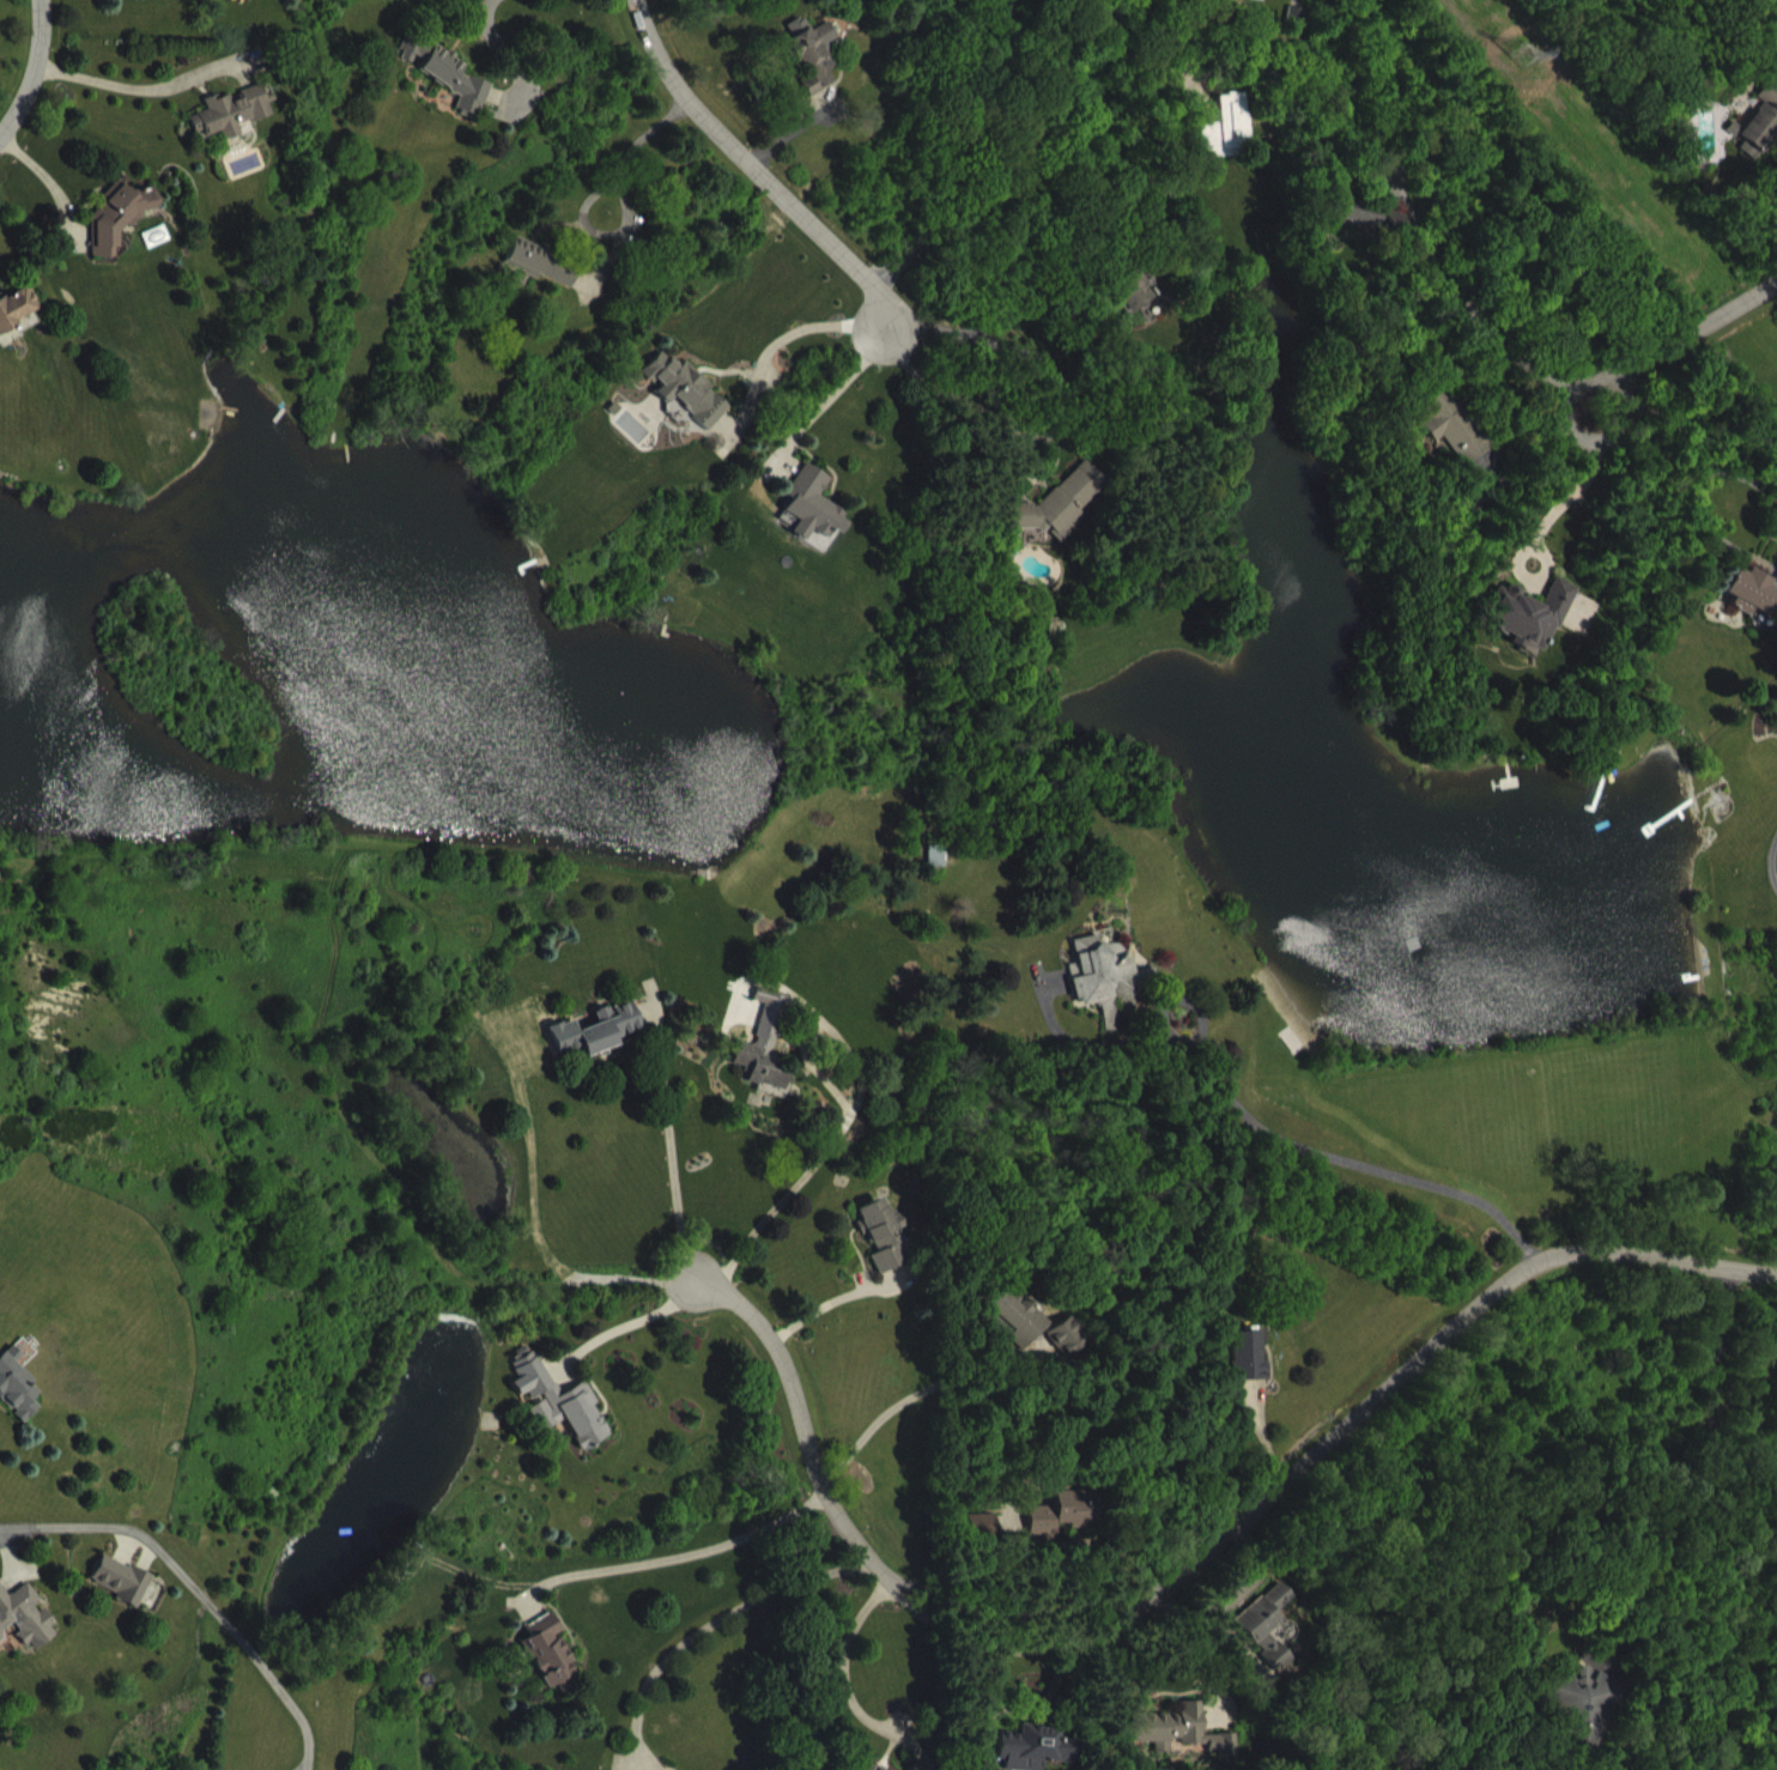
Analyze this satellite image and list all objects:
building: (206, 1)
building: (165, 4)
building: (1264, 4)
building: (1302, 32)
power tower: (1520, 51)
road: (498, 53)
road: (31, 73)
building: (818, 73)
road: (138, 85)
building: (451, 90)
building: (236, 128)
building: (1761, 143)
building: (1230, 145)
road: (621, 157)
road: (753, 169)
road: (1017, 174)
road: (48, 182)
building: (123, 234)
building: (1378, 234)
building: (544, 279)
building: (1139, 309)
building: (19, 325)
road: (1075, 332)
road: (782, 333)
road: (1488, 333)
road: (1680, 338)
road: (831, 392)
building: (691, 406)
road: (980, 412)
road: (1668, 414)
building: (1457, 443)
road: (1745, 477)
road: (1575, 486)
building: (818, 520)
building: (1062, 521)
road: (1712, 531)
building: (1755, 612)
building: (1535, 631)
road: (1771, 859)
building: (1114, 996)
building: (611, 1047)
building: (772, 1065)
road: (847, 1114)
road: (669, 1146)
road: (1345, 1157)
building: (888, 1251)
road: (826, 1301)
road: (631, 1319)
building: (1021, 1334)
building: (1072, 1353)
building: (1254, 1374)
road: (904, 1396)
building: (20, 1401)
building: (565, 1419)
road: (1704, 1468)
building: (1072, 1527)
building: (989, 1540)
road: (684, 1551)
road: (1187, 1570)
road: (193, 1588)
building: (128, 1598)
road: (715, 1617)
building: (28, 1632)
building: (1274, 1641)
road: (842, 1661)
building: (556, 1667)
building: (1184, 1746)
building: (1041, 1758)

